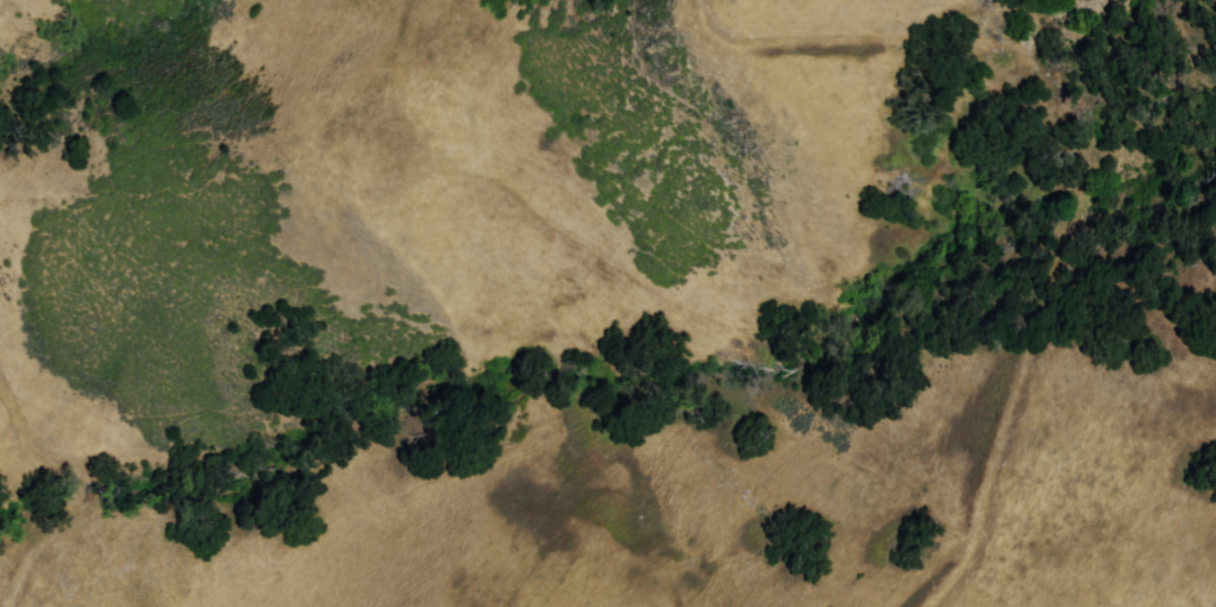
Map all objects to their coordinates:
road: (1133, 155)
road: (79, 484)

